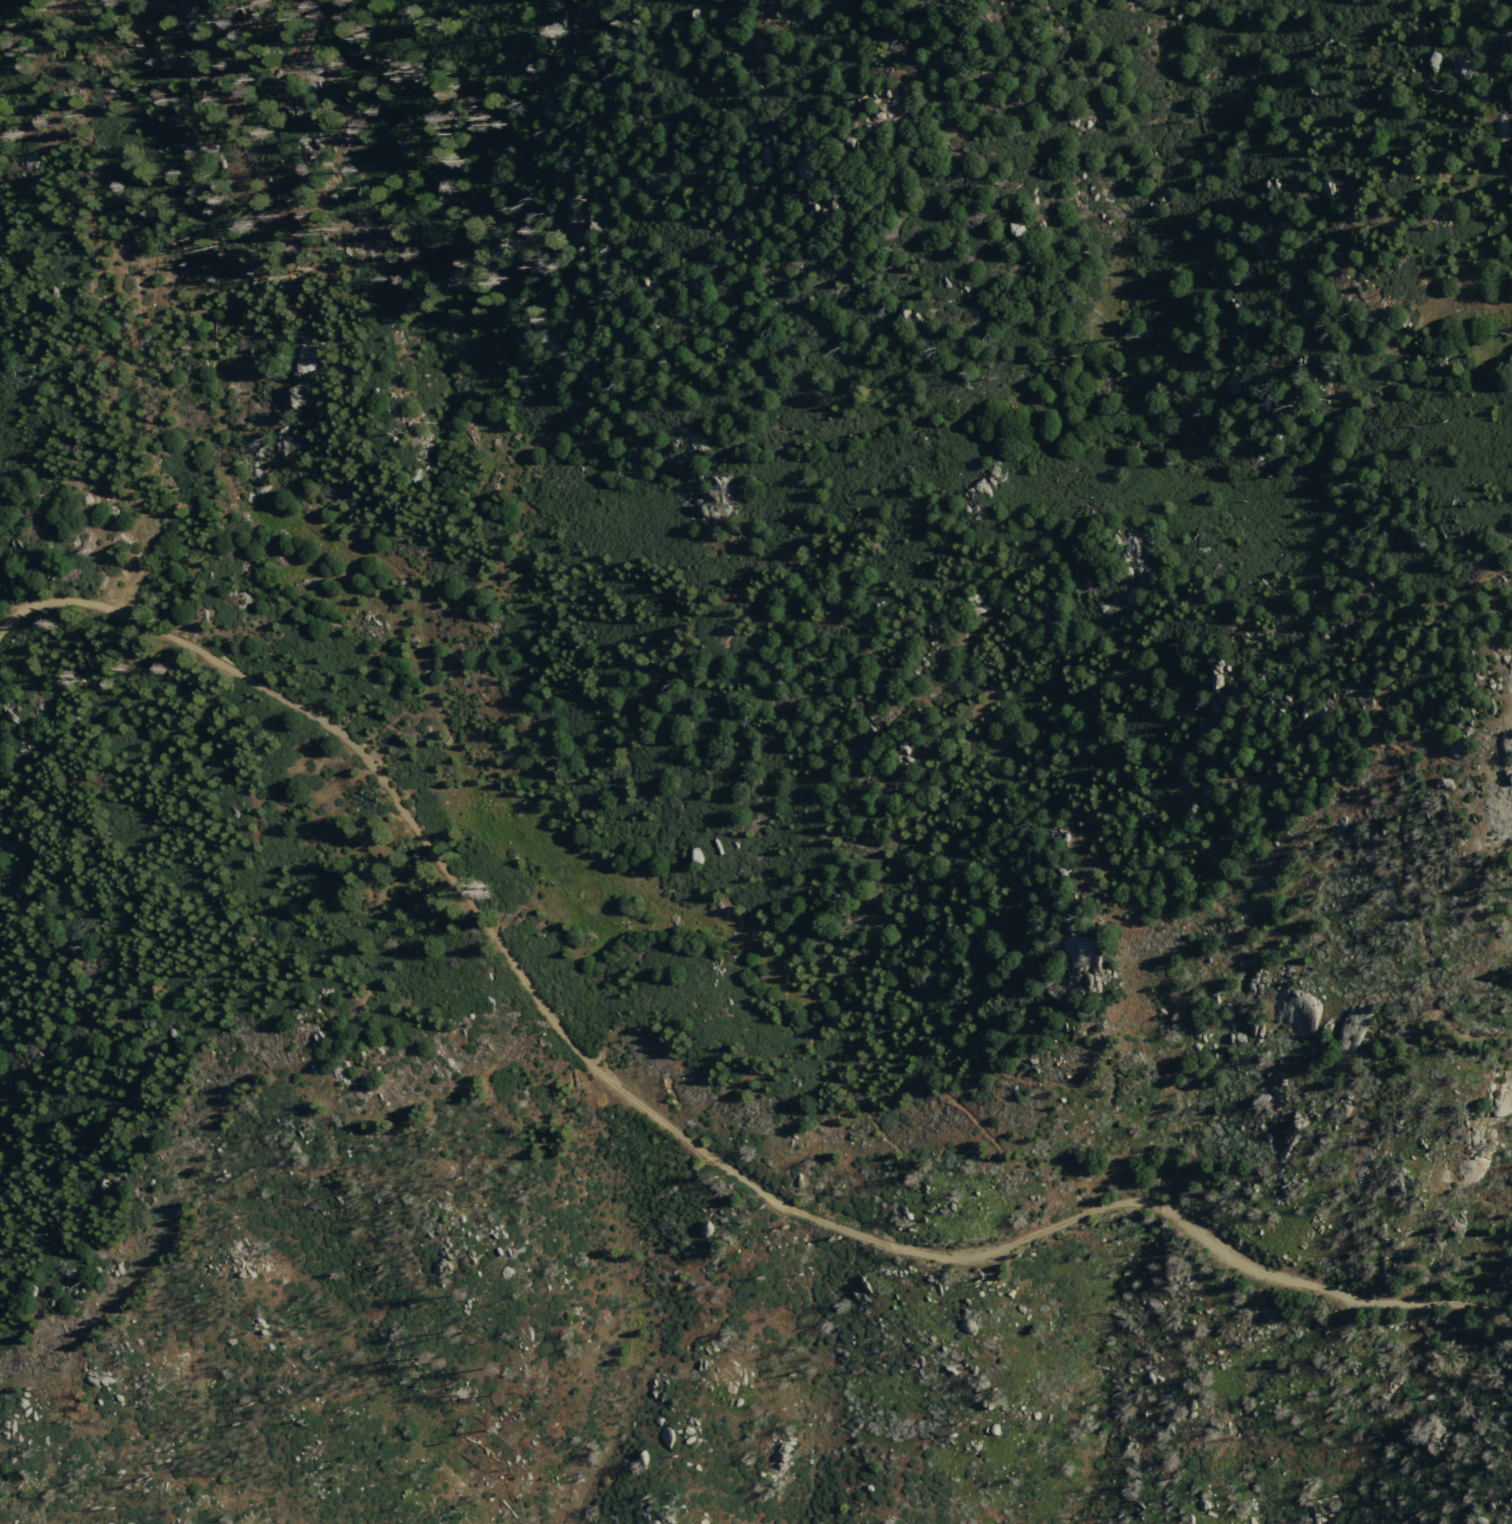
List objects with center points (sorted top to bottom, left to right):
road: (1416, 94)
road: (1440, 181)
road: (1390, 801)
road: (679, 1123)

